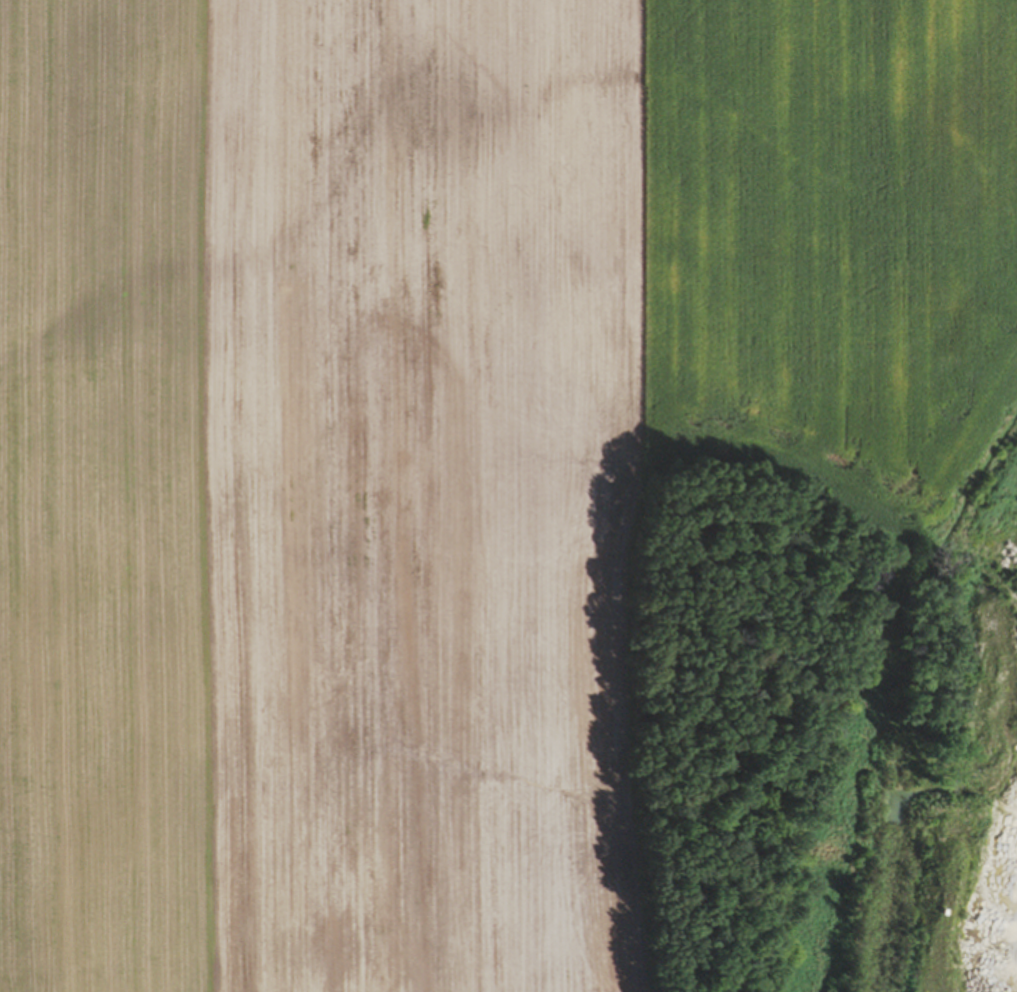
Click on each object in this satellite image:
quarry: (945, 764)

